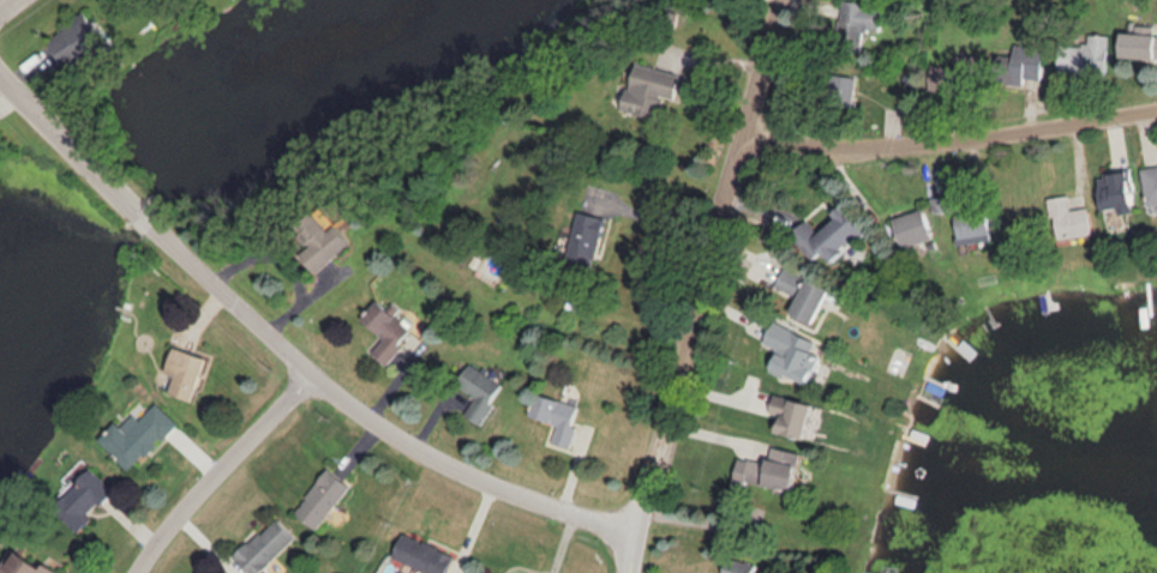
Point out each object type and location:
road: (4, 4)
building: (859, 17)
building: (77, 38)
building: (1140, 42)
building: (1085, 55)
building: (1019, 64)
building: (952, 73)
building: (652, 89)
building: (844, 89)
road: (70, 140)
road: (953, 152)
building: (1151, 182)
building: (1117, 192)
building: (945, 203)
road: (148, 217)
building: (1069, 217)
building: (973, 225)
building: (913, 227)
building: (832, 234)
road: (721, 236)
building: (588, 237)
building: (325, 242)
road: (289, 264)
building: (805, 292)
building: (389, 327)
building: (793, 350)
building: (188, 372)
building: (481, 391)
building: (795, 414)
road: (368, 415)
building: (558, 416)
building: (140, 434)
building: (773, 469)
road: (234, 475)
building: (324, 497)
building: (85, 499)
road: (631, 521)
building: (268, 545)
building: (424, 554)
building: (25, 565)
building: (742, 566)
building: (485, 571)

